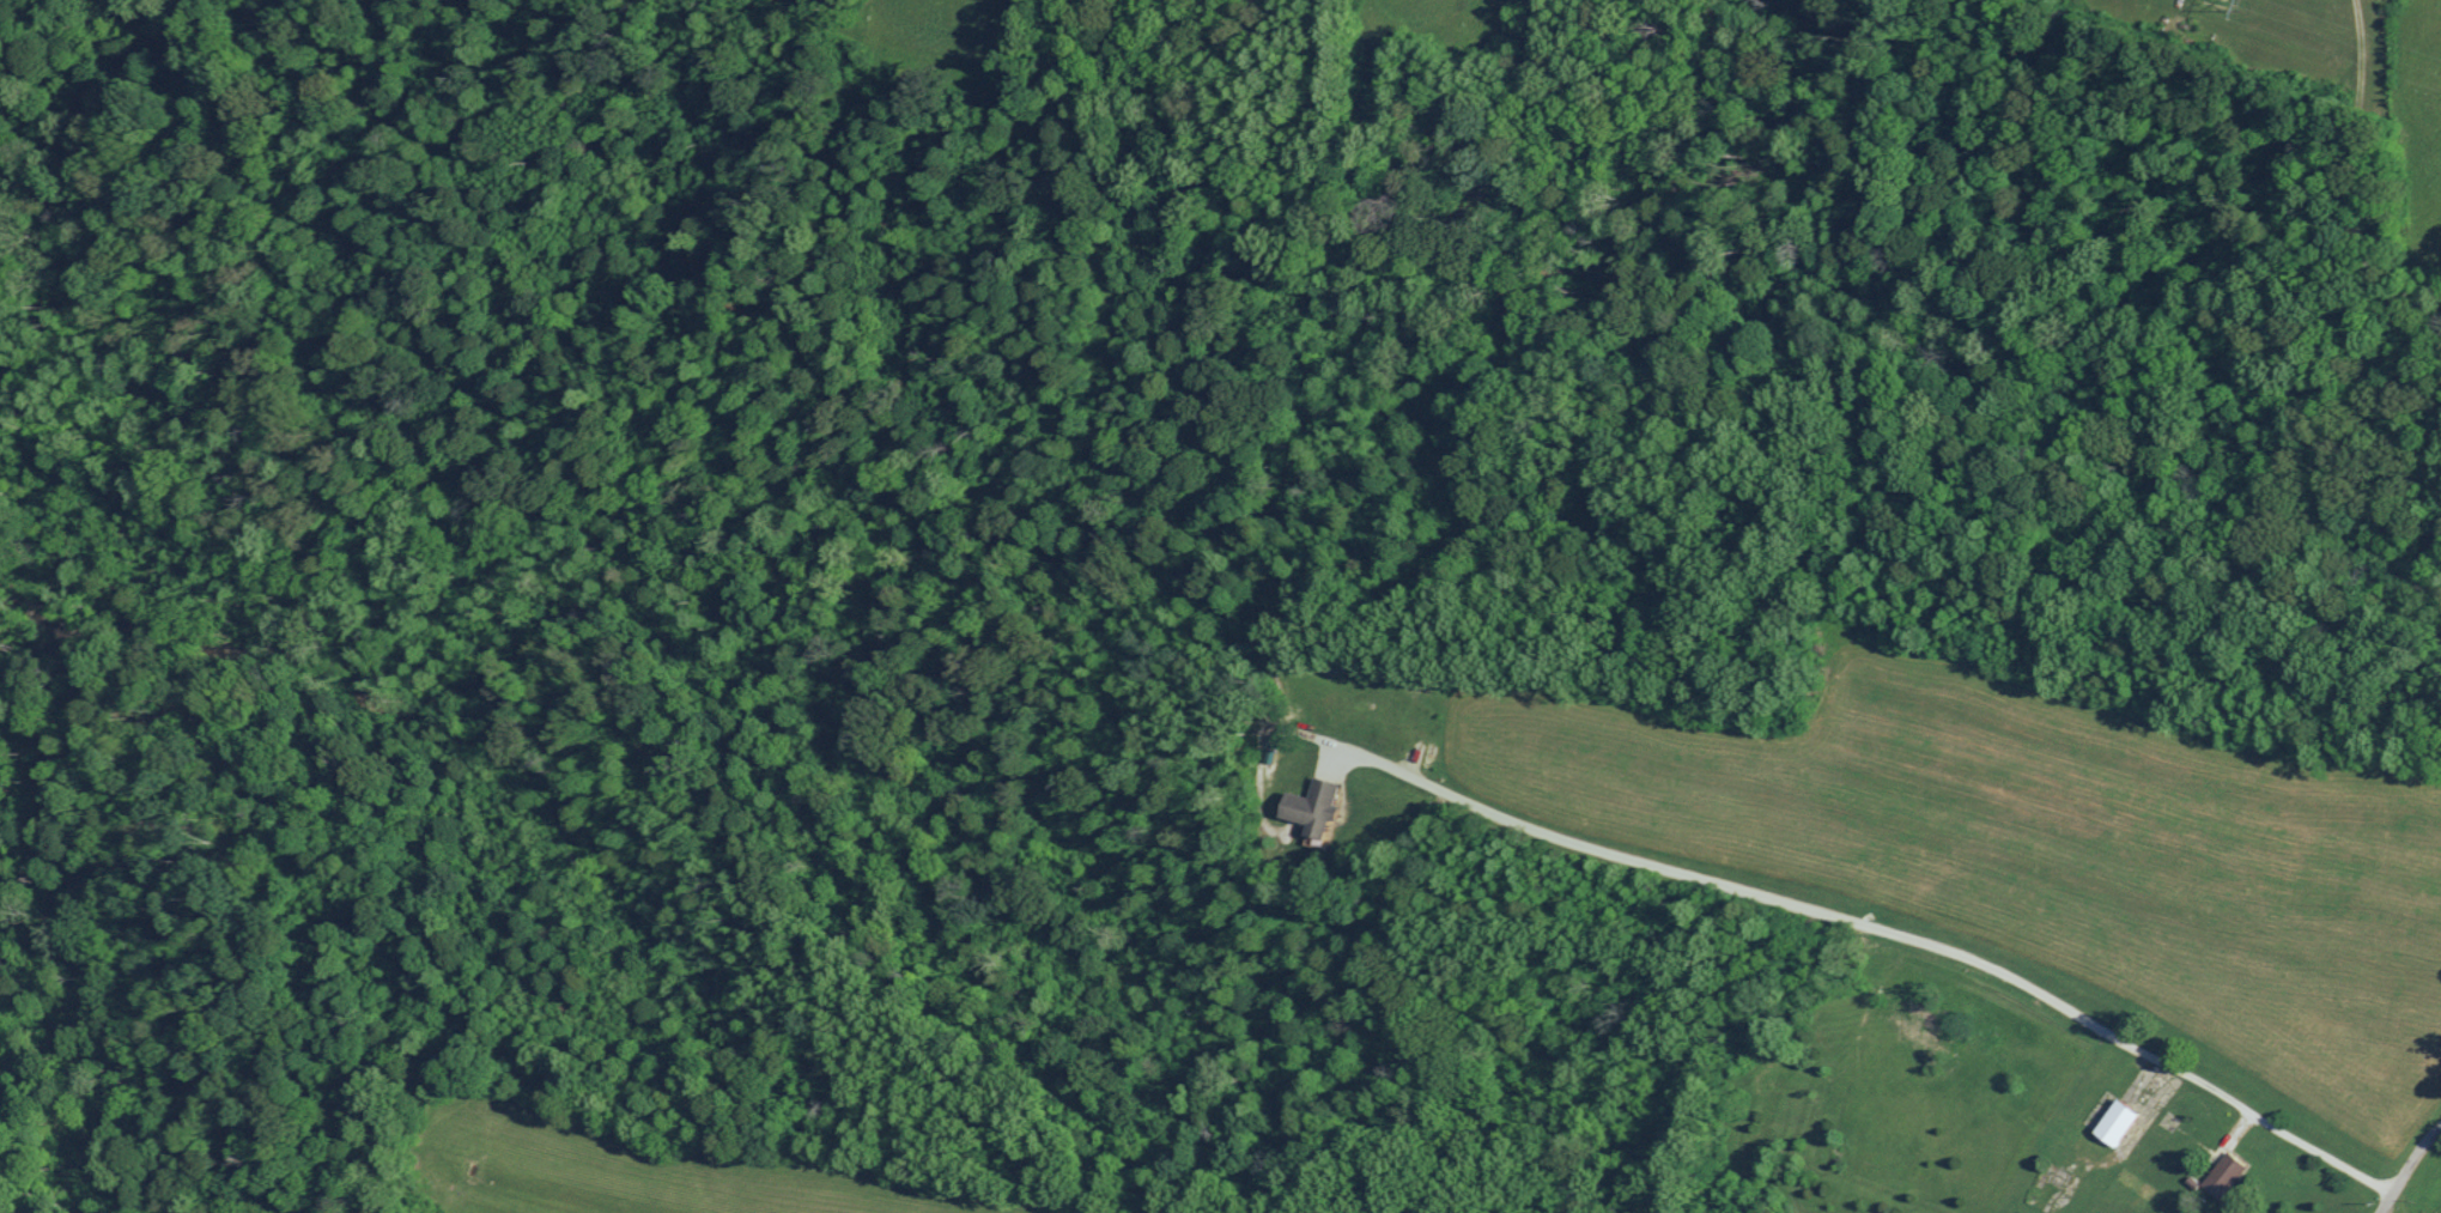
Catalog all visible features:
power tower: (2243, 0)
road: (2350, 176)
building: (1312, 805)
road: (1894, 934)
building: (2115, 1121)
road: (2407, 1167)
building: (2223, 1173)

